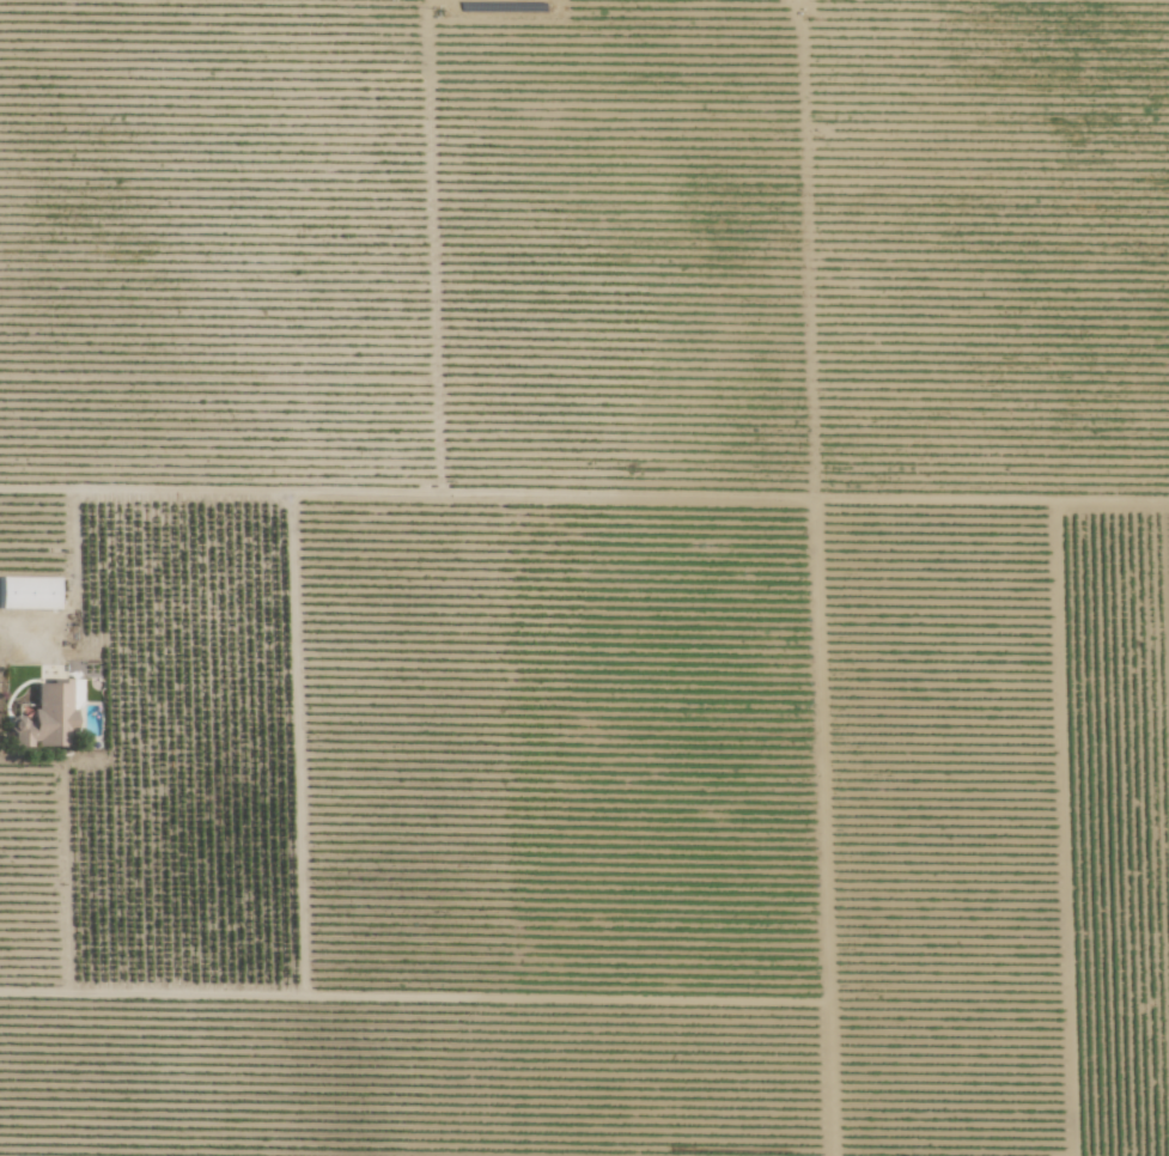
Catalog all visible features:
building: (28, 592)
road: (34, 622)
building: (48, 716)

